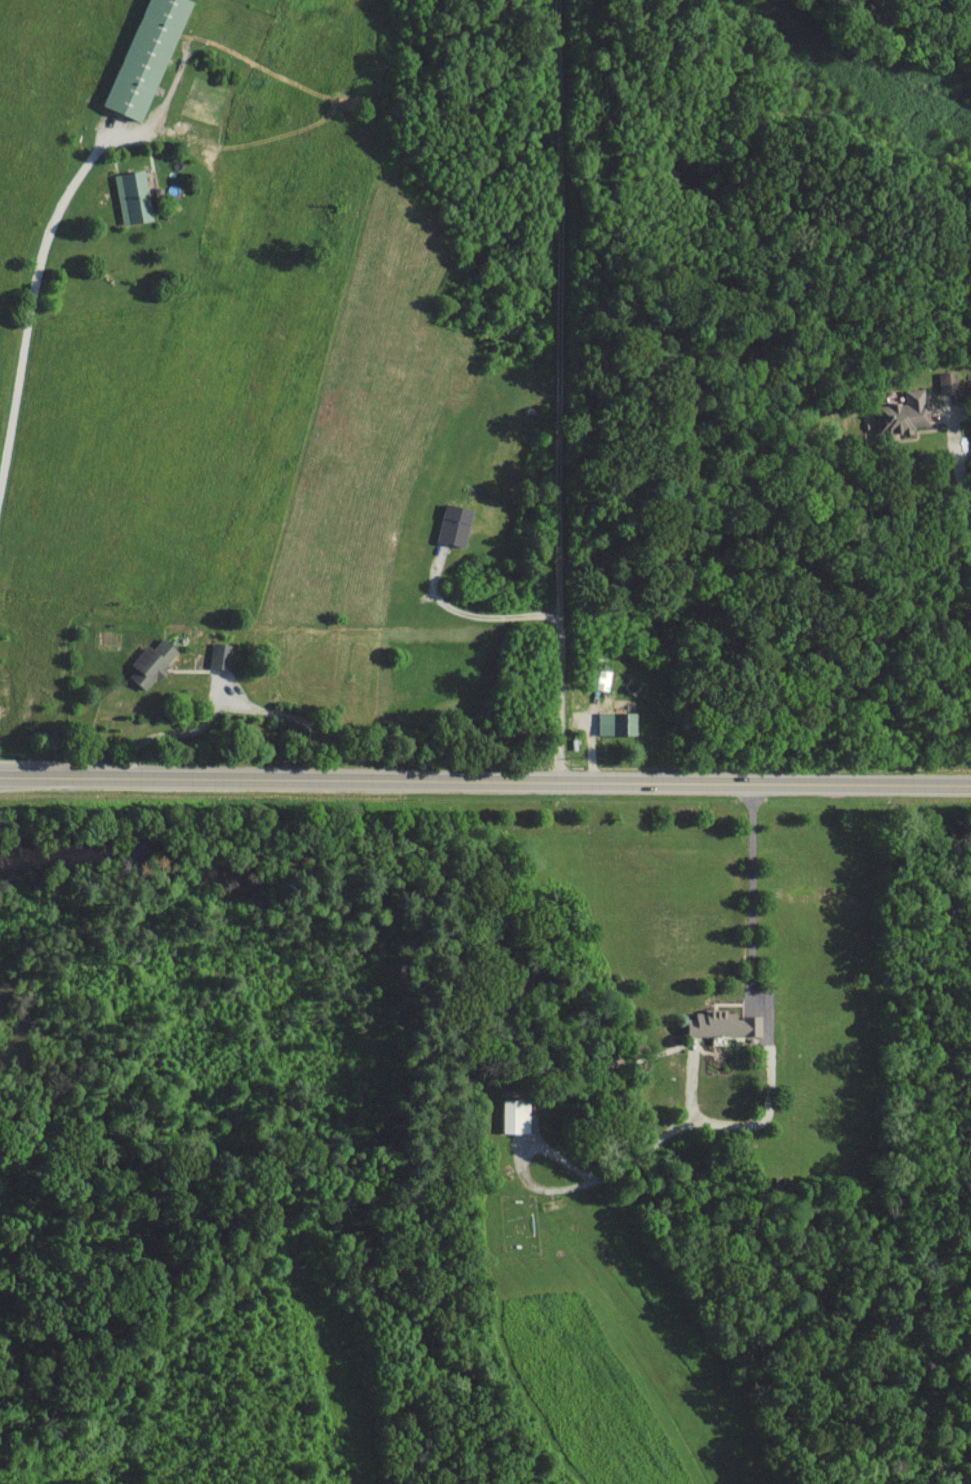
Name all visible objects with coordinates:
building: (147, 57)
building: (133, 197)
road: (34, 289)
building: (948, 382)
road: (562, 390)
building: (904, 414)
road: (960, 468)
building: (454, 524)
road: (475, 614)
building: (221, 654)
building: (152, 663)
building: (603, 678)
road: (233, 705)
building: (618, 722)
road: (485, 779)
road: (753, 891)
building: (724, 1023)
building: (516, 1115)

